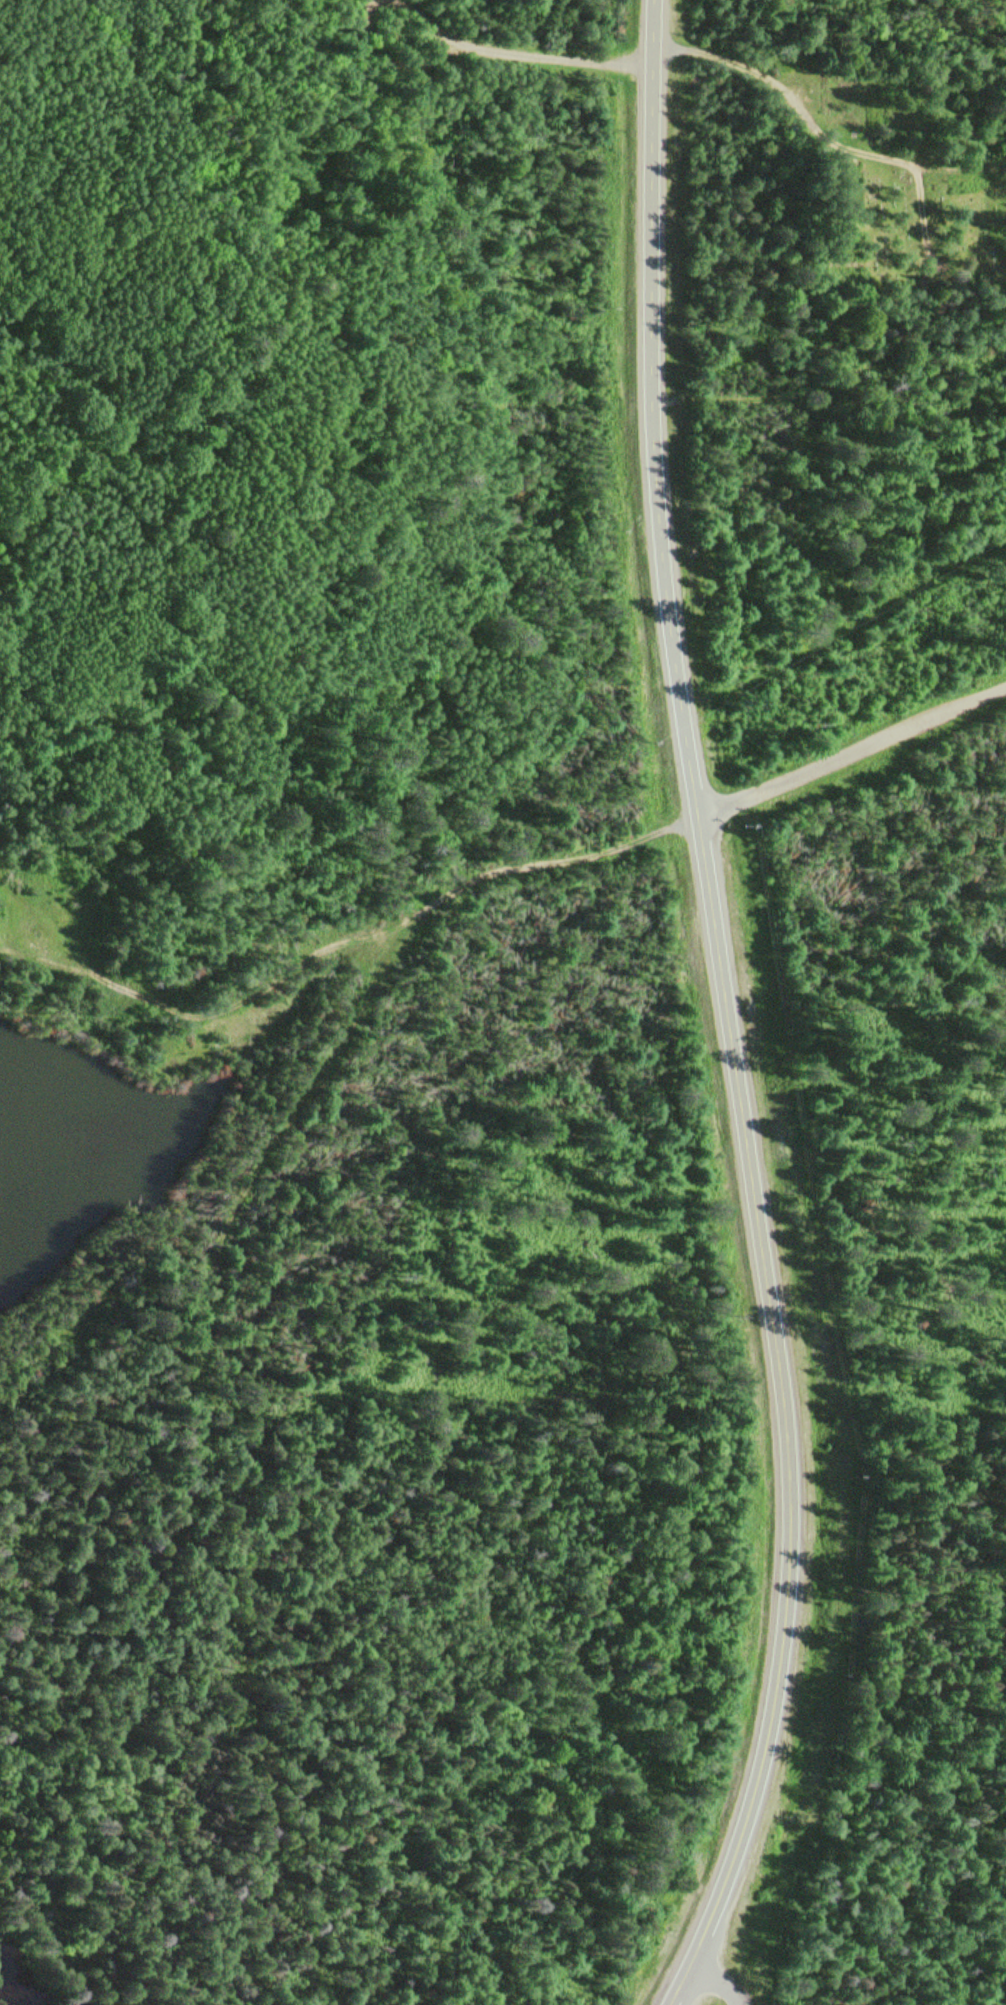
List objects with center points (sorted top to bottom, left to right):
park: (844, 211)
road: (853, 754)
road: (731, 1013)

